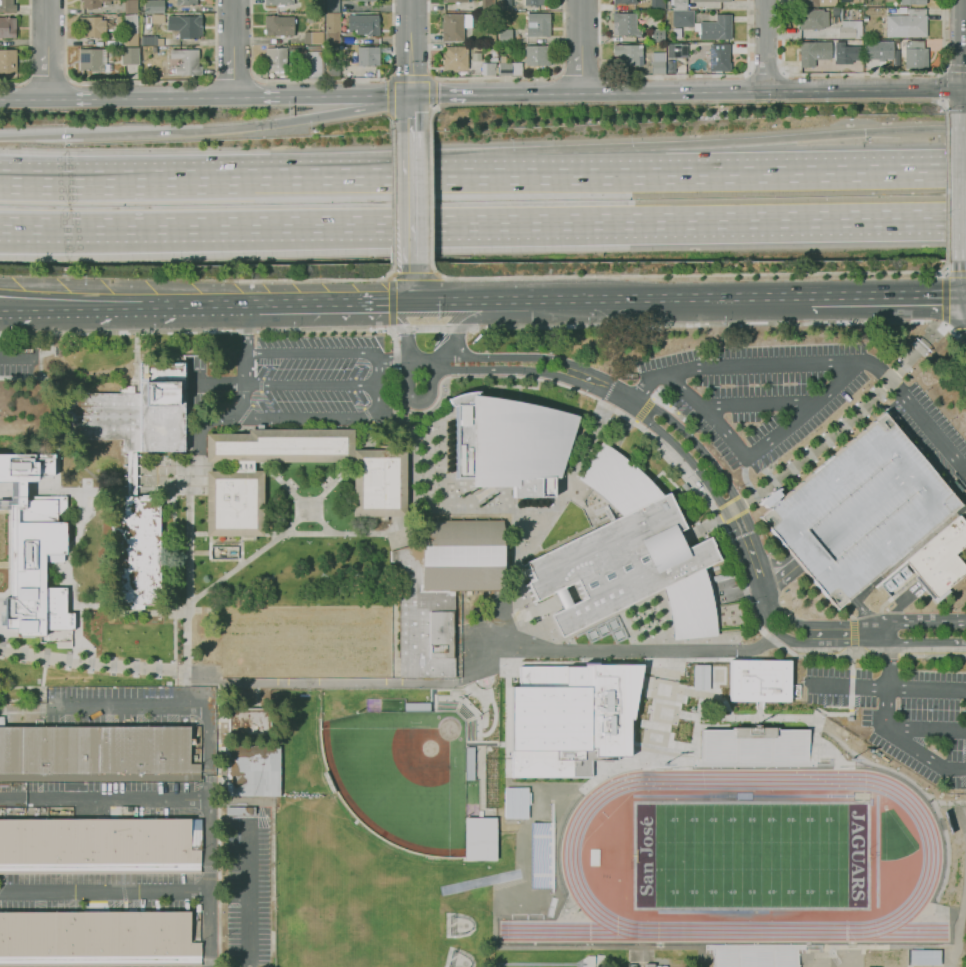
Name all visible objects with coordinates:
building: (368, 0)
building: (364, 1)
building: (455, 1)
building: (711, 1)
building: (186, 2)
building: (279, 2)
building: (534, 2)
building: (624, 2)
building: (856, 2)
building: (913, 2)
building: (91, 3)
building: (808, 3)
building: (679, 4)
building: (487, 5)
building: (505, 5)
building: (657, 5)
building: (7, 6)
building: (131, 6)
building: (153, 6)
building: (332, 6)
building: (873, 12)
building: (157, 18)
building: (311, 18)
building: (865, 18)
building: (813, 19)
building: (364, 24)
building: (538, 24)
building: (625, 24)
building: (907, 24)
building: (186, 25)
building: (279, 25)
building: (705, 25)
building: (92, 26)
building: (455, 26)
building: (7, 27)
building: (333, 27)
building: (131, 29)
building: (850, 29)
building: (677, 33)
building: (658, 35)
building: (492, 36)
building: (505, 36)
building: (314, 37)
building: (151, 40)
road: (765, 45)
road: (581, 46)
road: (232, 47)
building: (316, 47)
road: (410, 48)
road: (46, 49)
building: (153, 49)
building: (877, 49)
building: (677, 50)
building: (694, 50)
building: (814, 52)
road: (29, 53)
building: (629, 54)
building: (916, 54)
building: (130, 55)
building: (494, 55)
building: (537, 55)
building: (368, 56)
building: (719, 57)
building: (455, 58)
building: (276, 59)
building: (8, 60)
building: (94, 60)
building: (187, 62)
building: (658, 62)
building: (314, 63)
building: (488, 68)
building: (510, 68)
building: (333, 69)
building: (632, 69)
road: (765, 69)
road: (954, 70)
road: (581, 72)
road: (862, 74)
road: (48, 75)
road: (674, 75)
road: (234, 76)
road: (409, 78)
road: (493, 79)
road: (322, 80)
road: (140, 82)
road: (941, 84)
road: (430, 91)
road: (773, 91)
traffic signals: (965, 91)
road: (495, 94)
road: (228, 95)
traffic signals: (409, 96)
road: (390, 97)
road: (24, 99)
road: (965, 101)
road: (945, 105)
road: (409, 113)
road: (428, 116)
road: (392, 121)
road: (206, 132)
traffic signals: (865, 132)
traffic signals: (65, 134)
road: (791, 139)
road: (796, 173)
road: (582, 175)
road: (386, 178)
road: (118, 182)
road: (946, 186)
road: (429, 196)
road: (392, 197)
road: (410, 197)
road: (552, 221)
road: (68, 224)
road: (944, 272)
road: (389, 274)
road: (413, 274)
road: (437, 274)
road: (956, 274)
road: (689, 275)
road: (319, 279)
road: (412, 280)
road: (887, 297)
road: (946, 298)
road: (394, 299)
traffic signals: (413, 299)
road: (453, 299)
road: (510, 299)
road: (668, 299)
road: (325, 300)
road: (351, 300)
road: (369, 300)
road: (390, 300)
road: (8, 301)
road: (278, 301)
road: (193, 302)
road: (78, 304)
road: (8, 305)
road: (945, 324)
road: (493, 326)
road: (246, 327)
road: (391, 327)
road: (953, 329)
road: (961, 329)
road: (314, 352)
road: (14, 356)
road: (419, 358)
road: (393, 359)
road: (135, 362)
parking lot: (17, 363)
road: (821, 364)
road: (498, 369)
road: (246, 370)
road: (80, 372)
road: (379, 373)
parking lot: (315, 374)
road: (532, 378)
road: (313, 386)
road: (598, 390)
road: (426, 399)
parking lot: (789, 399)
road: (634, 400)
building: (162, 405)
road: (755, 407)
building: (105, 416)
road: (313, 420)
road: (692, 442)
building: (510, 444)
road: (445, 448)
road: (755, 451)
road: (686, 457)
road: (427, 458)
building: (25, 463)
road: (254, 467)
building: (131, 473)
building: (235, 478)
road: (568, 484)
road: (20, 487)
building: (859, 510)
parking lot: (859, 510)
road: (481, 516)
road: (718, 517)
road: (321, 520)
road: (188, 531)
road: (340, 532)
road: (72, 536)
road: (268, 537)
building: (136, 550)
road: (743, 553)
building: (627, 560)
building: (940, 560)
building: (38, 570)
road: (783, 572)
building: (723, 575)
road: (761, 584)
building: (443, 588)
road: (862, 608)
road: (954, 620)
road: (907, 621)
road: (768, 624)
road: (768, 635)
road: (845, 641)
road: (926, 641)
building: (266, 643)
road: (633, 651)
road: (890, 656)
road: (932, 656)
road: (87, 658)
road: (887, 673)
building: (701, 677)
building: (759, 680)
road: (887, 687)
road: (128, 706)
parking lot: (904, 715)
building: (569, 718)
building: (249, 723)
building: (754, 732)
road: (922, 756)
building: (194, 769)
park: (408, 769)
building: (253, 770)
road: (208, 780)
road: (104, 800)
building: (514, 802)
building: (129, 811)
building: (52, 812)
building: (64, 812)
building: (68, 816)
building: (479, 838)
building: (100, 845)
park: (753, 854)
track: (931, 855)
road: (103, 894)
road: (248, 896)
road: (208, 930)
park: (378, 938)
building: (97, 939)
building: (753, 955)
building: (923, 956)

